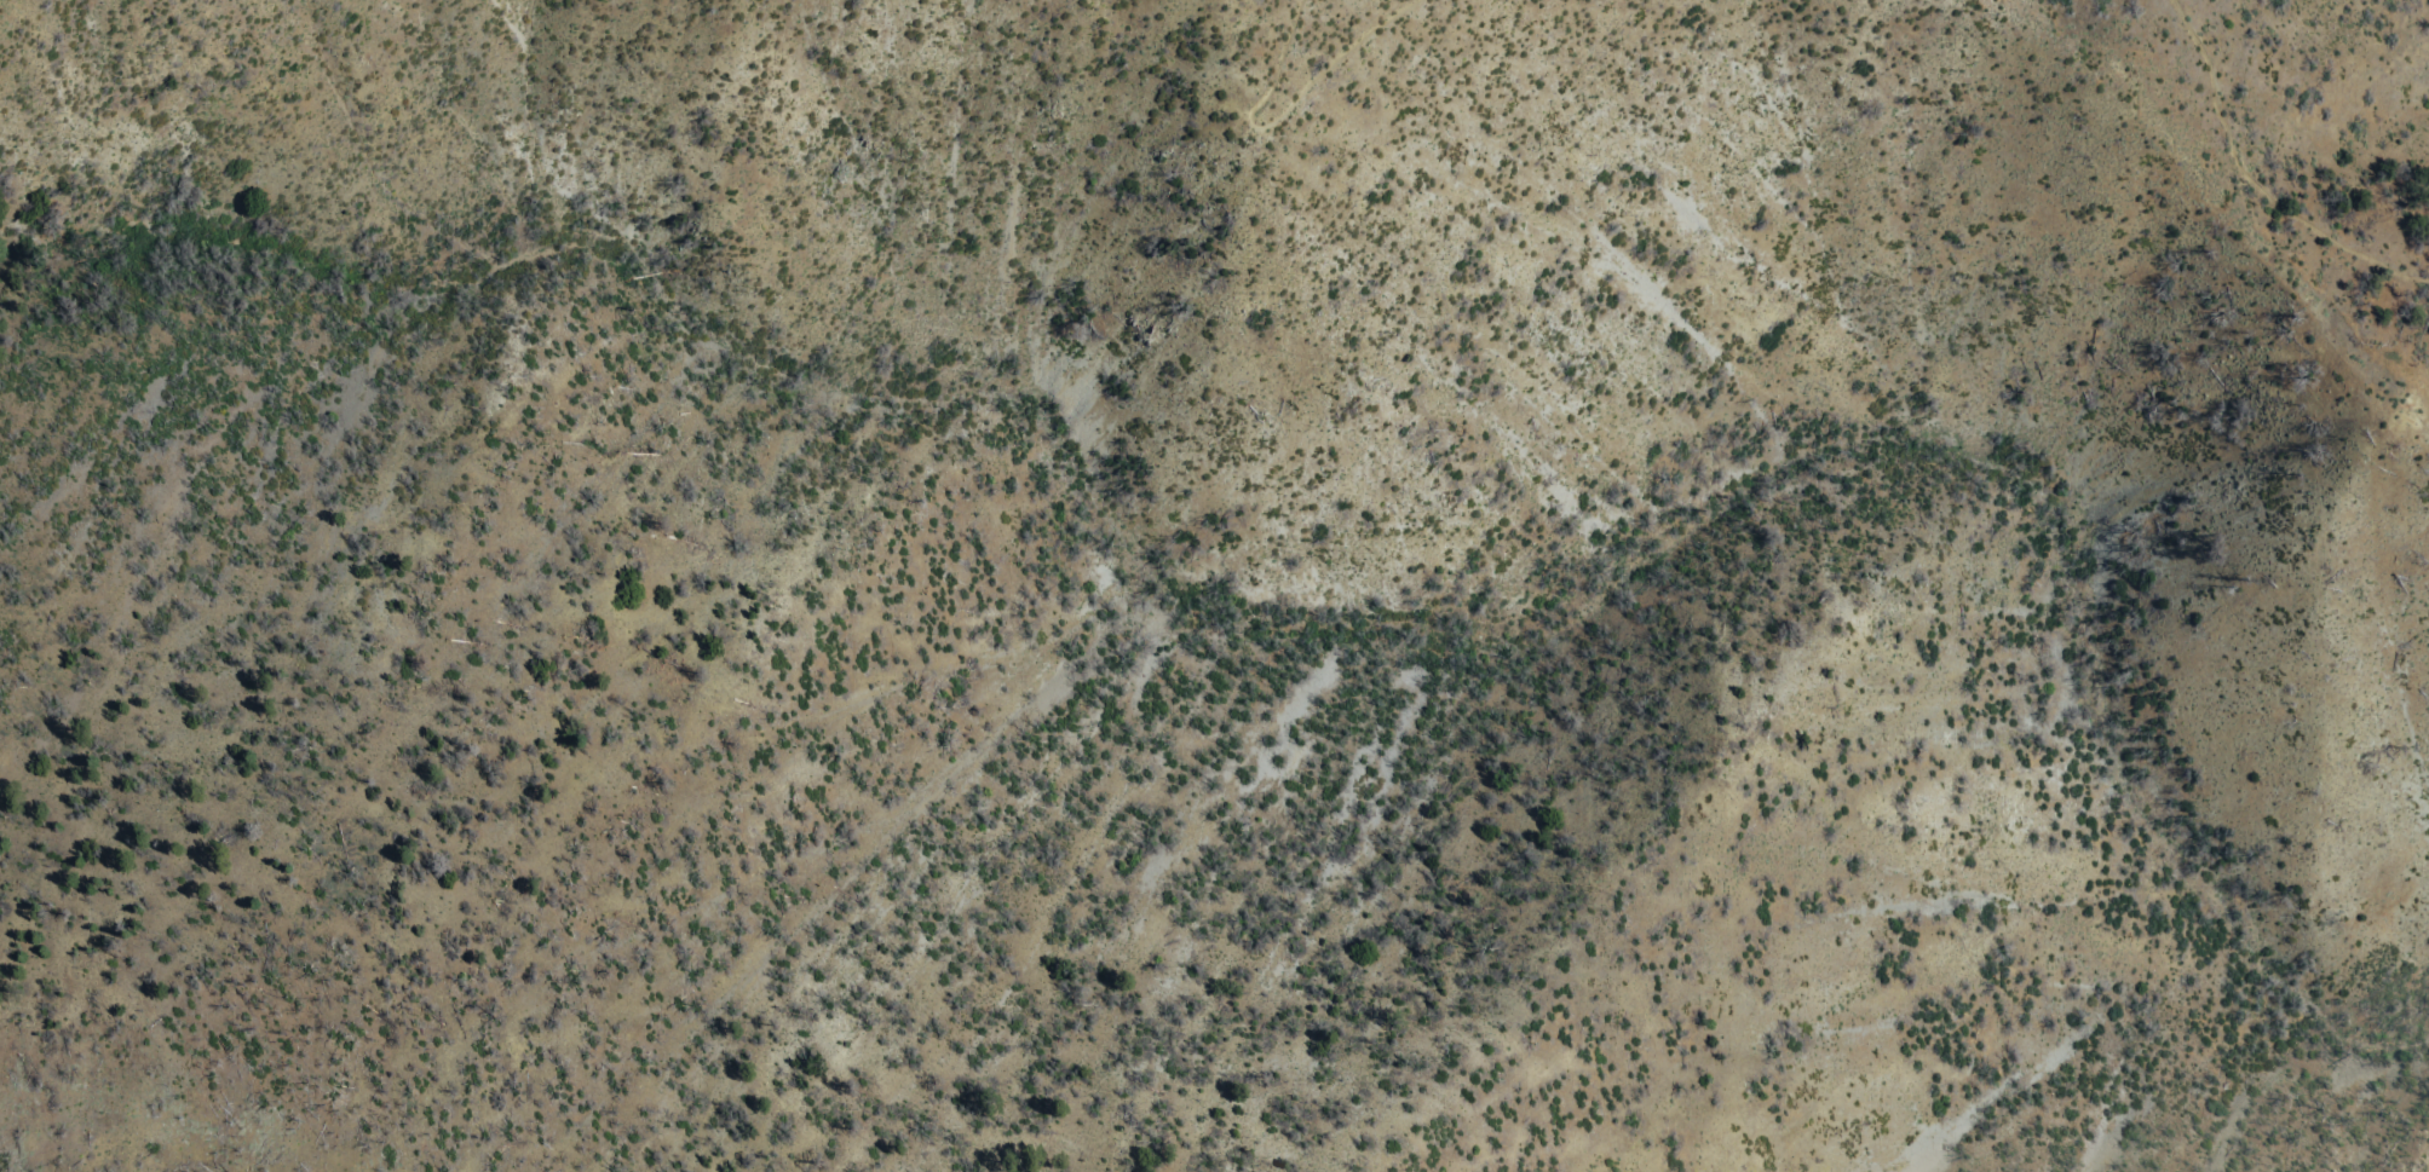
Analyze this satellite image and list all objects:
road: (1270, 97)
road: (2255, 178)

